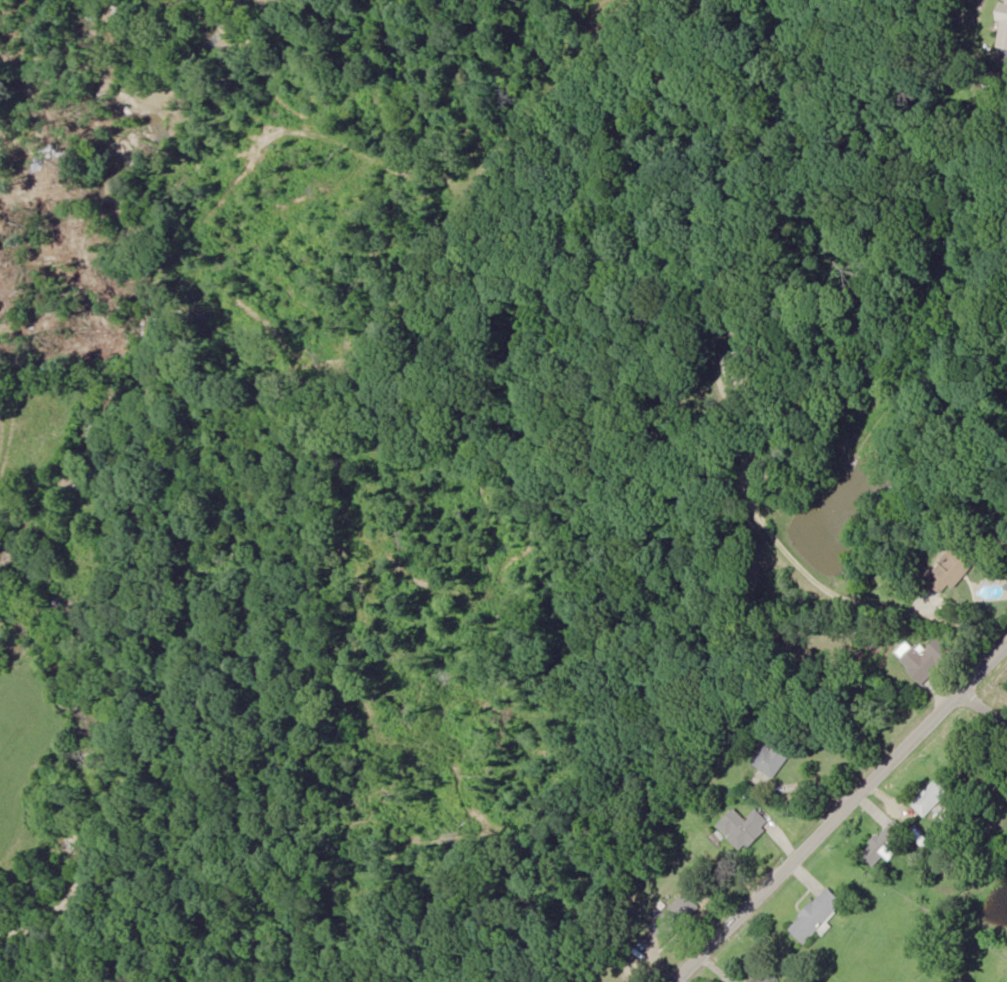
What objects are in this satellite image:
building: (1002, 26)
building: (718, 306)
building: (735, 365)
building: (950, 570)
building: (919, 663)
road: (983, 719)
building: (776, 754)
building: (928, 797)
road: (842, 822)
building: (743, 825)
building: (885, 843)
building: (817, 914)
building: (676, 917)
building: (766, 975)

